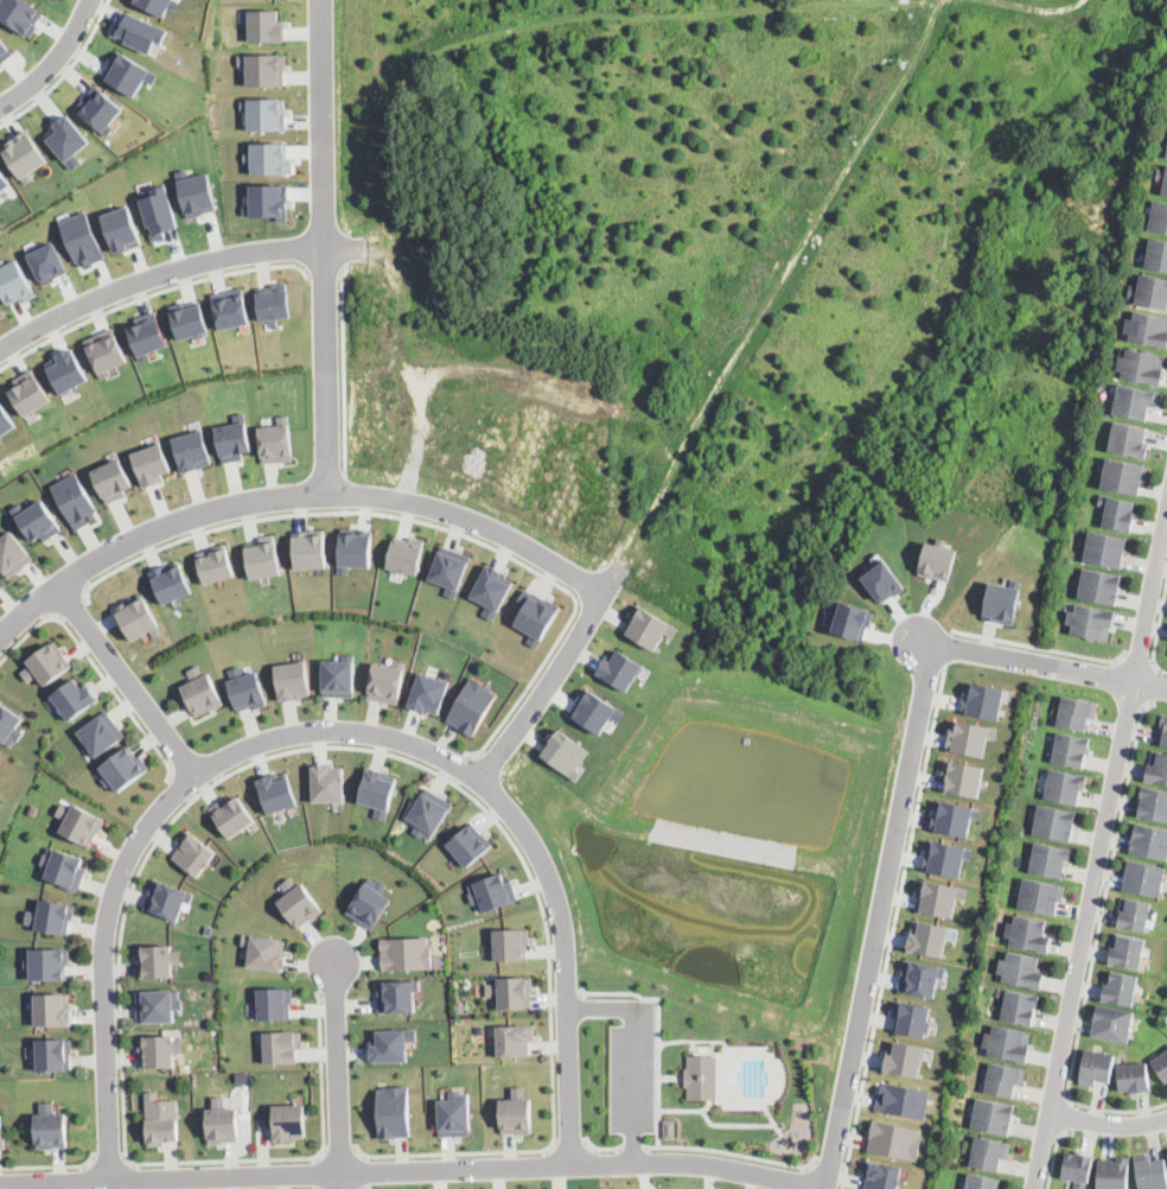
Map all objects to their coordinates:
building: (157, 5)
building: (20, 14)
building: (264, 25)
building: (139, 31)
building: (5, 51)
road: (53, 61)
building: (263, 68)
road: (64, 71)
building: (127, 72)
building: (98, 108)
building: (263, 113)
building: (66, 139)
building: (24, 154)
building: (1166, 154)
building: (268, 158)
building: (1163, 179)
building: (4, 180)
building: (196, 192)
building: (267, 201)
building: (158, 210)
building: (1159, 216)
building: (121, 227)
building: (81, 239)
road: (323, 246)
building: (1156, 253)
building: (47, 261)
road: (324, 275)
road: (154, 278)
building: (14, 281)
building: (1152, 291)
road: (148, 293)
building: (273, 300)
building: (230, 307)
building: (0, 312)
building: (187, 319)
building: (1147, 329)
building: (146, 335)
building: (106, 350)
building: (1140, 364)
road: (343, 369)
building: (66, 370)
building: (28, 392)
building: (1134, 402)
building: (5, 421)
building: (234, 438)
building: (1129, 439)
building: (275, 440)
building: (1, 441)
building: (192, 450)
building: (152, 463)
building: (1124, 475)
building: (111, 479)
road: (344, 492)
road: (292, 494)
building: (75, 500)
building: (1118, 510)
building: (36, 520)
road: (423, 521)
building: (310, 548)
building: (355, 548)
building: (1104, 548)
building: (12, 553)
building: (406, 554)
building: (263, 557)
building: (937, 560)
building: (216, 562)
building: (449, 568)
building: (170, 580)
building: (882, 580)
building: (0, 583)
building: (1099, 586)
building: (491, 590)
building: (1000, 602)
road: (70, 605)
building: (535, 615)
building: (138, 617)
building: (852, 619)
building: (1092, 622)
building: (648, 625)
road: (1158, 635)
road: (949, 646)
road: (1041, 647)
road: (1139, 659)
building: (46, 663)
road: (1046, 666)
road: (96, 667)
building: (619, 669)
building: (338, 678)
road: (126, 679)
building: (292, 680)
building: (385, 682)
road: (543, 686)
road: (1154, 686)
building: (244, 688)
building: (202, 689)
building: (428, 693)
building: (74, 698)
building: (982, 699)
building: (471, 705)
building: (595, 710)
building: (1076, 711)
building: (9, 724)
road: (327, 727)
building: (1163, 730)
building: (101, 733)
building: (969, 736)
building: (0, 749)
building: (1071, 749)
building: (566, 752)
road: (255, 762)
building: (125, 768)
road: (459, 768)
building: (1158, 768)
building: (962, 777)
building: (327, 783)
building: (1065, 786)
road: (183, 788)
building: (377, 789)
building: (276, 790)
building: (1153, 802)
building: (428, 812)
building: (231, 814)
building: (952, 816)
building: (79, 821)
building: (1054, 821)
building: (1148, 840)
building: (468, 844)
building: (192, 851)
building: (945, 857)
road: (1099, 857)
building: (1050, 859)
building: (64, 866)
building: (1144, 878)
building: (493, 892)
building: (1040, 895)
building: (938, 897)
building: (166, 898)
building: (296, 902)
building: (370, 902)
building: (1134, 914)
building: (51, 915)
road: (876, 916)
road: (893, 926)
building: (1028, 932)
building: (927, 939)
building: (510, 943)
road: (1096, 947)
building: (266, 950)
building: (1127, 950)
building: (407, 952)
building: (155, 960)
building: (47, 962)
building: (1021, 969)
building: (920, 977)
building: (1121, 987)
building: (514, 991)
building: (396, 994)
road: (567, 994)
building: (274, 1002)
building: (158, 1004)
building: (1020, 1006)
building: (53, 1007)
building: (911, 1018)
building: (1111, 1022)
road: (658, 1032)
building: (514, 1038)
building: (1008, 1042)
building: (391, 1043)
building: (282, 1045)
building: (159, 1050)
building: (53, 1054)
road: (632, 1054)
building: (904, 1058)
building: (1095, 1067)
building: (1161, 1067)
road: (337, 1072)
building: (242, 1075)
building: (702, 1076)
building: (1134, 1076)
building: (1003, 1079)
building: (901, 1099)
building: (394, 1111)
building: (454, 1113)
building: (993, 1114)
road: (1065, 1115)
building: (516, 1117)
building: (161, 1119)
building: (288, 1120)
building: (222, 1124)
road: (1108, 1125)
building: (51, 1126)
building: (669, 1128)
building: (1, 1131)
building: (894, 1139)
road: (569, 1142)
road: (599, 1146)
road: (633, 1146)
road: (340, 1152)
road: (734, 1152)
building: (988, 1152)
road: (1054, 1156)
road: (110, 1161)
road: (830, 1162)
road: (50, 1166)
building: (1077, 1168)
road: (414, 1170)
road: (318, 1171)
building: (1114, 1174)
building: (1152, 1174)
building: (880, 1175)
building: (982, 1182)

